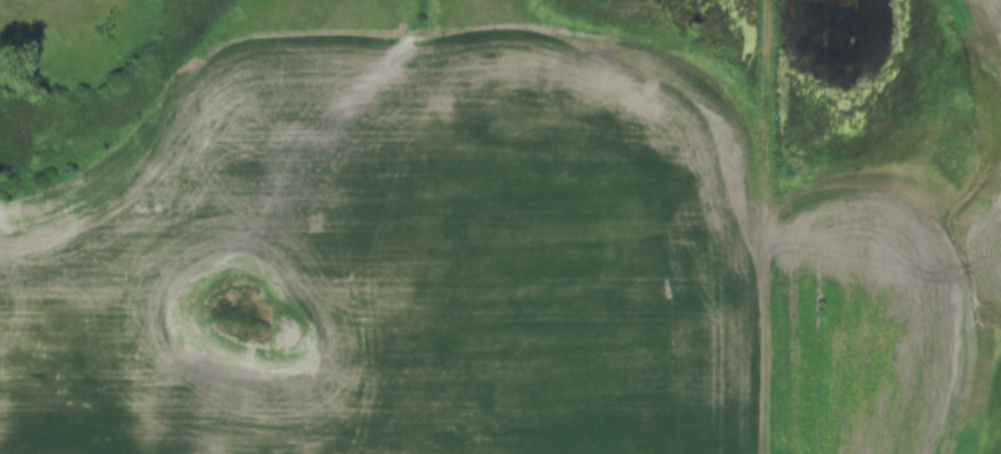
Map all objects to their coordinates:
road: (762, 227)

